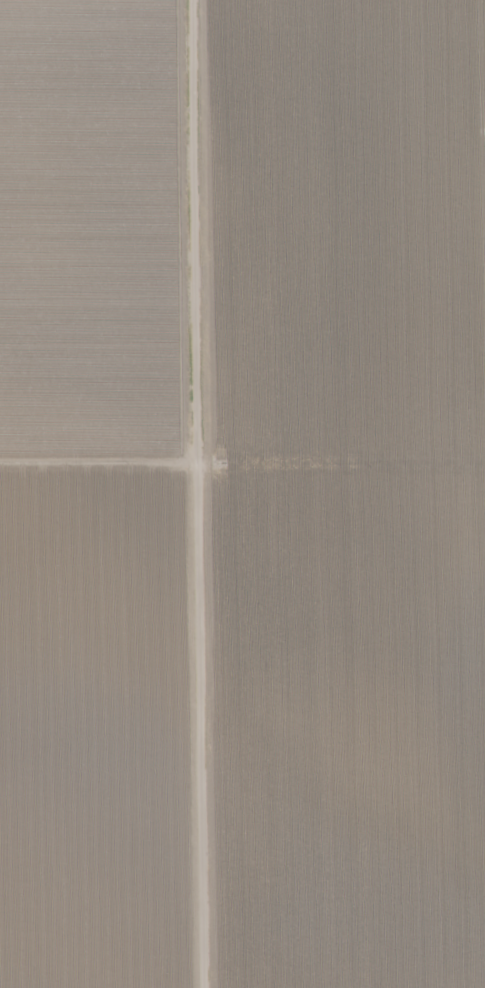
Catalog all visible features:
road: (203, 494)

